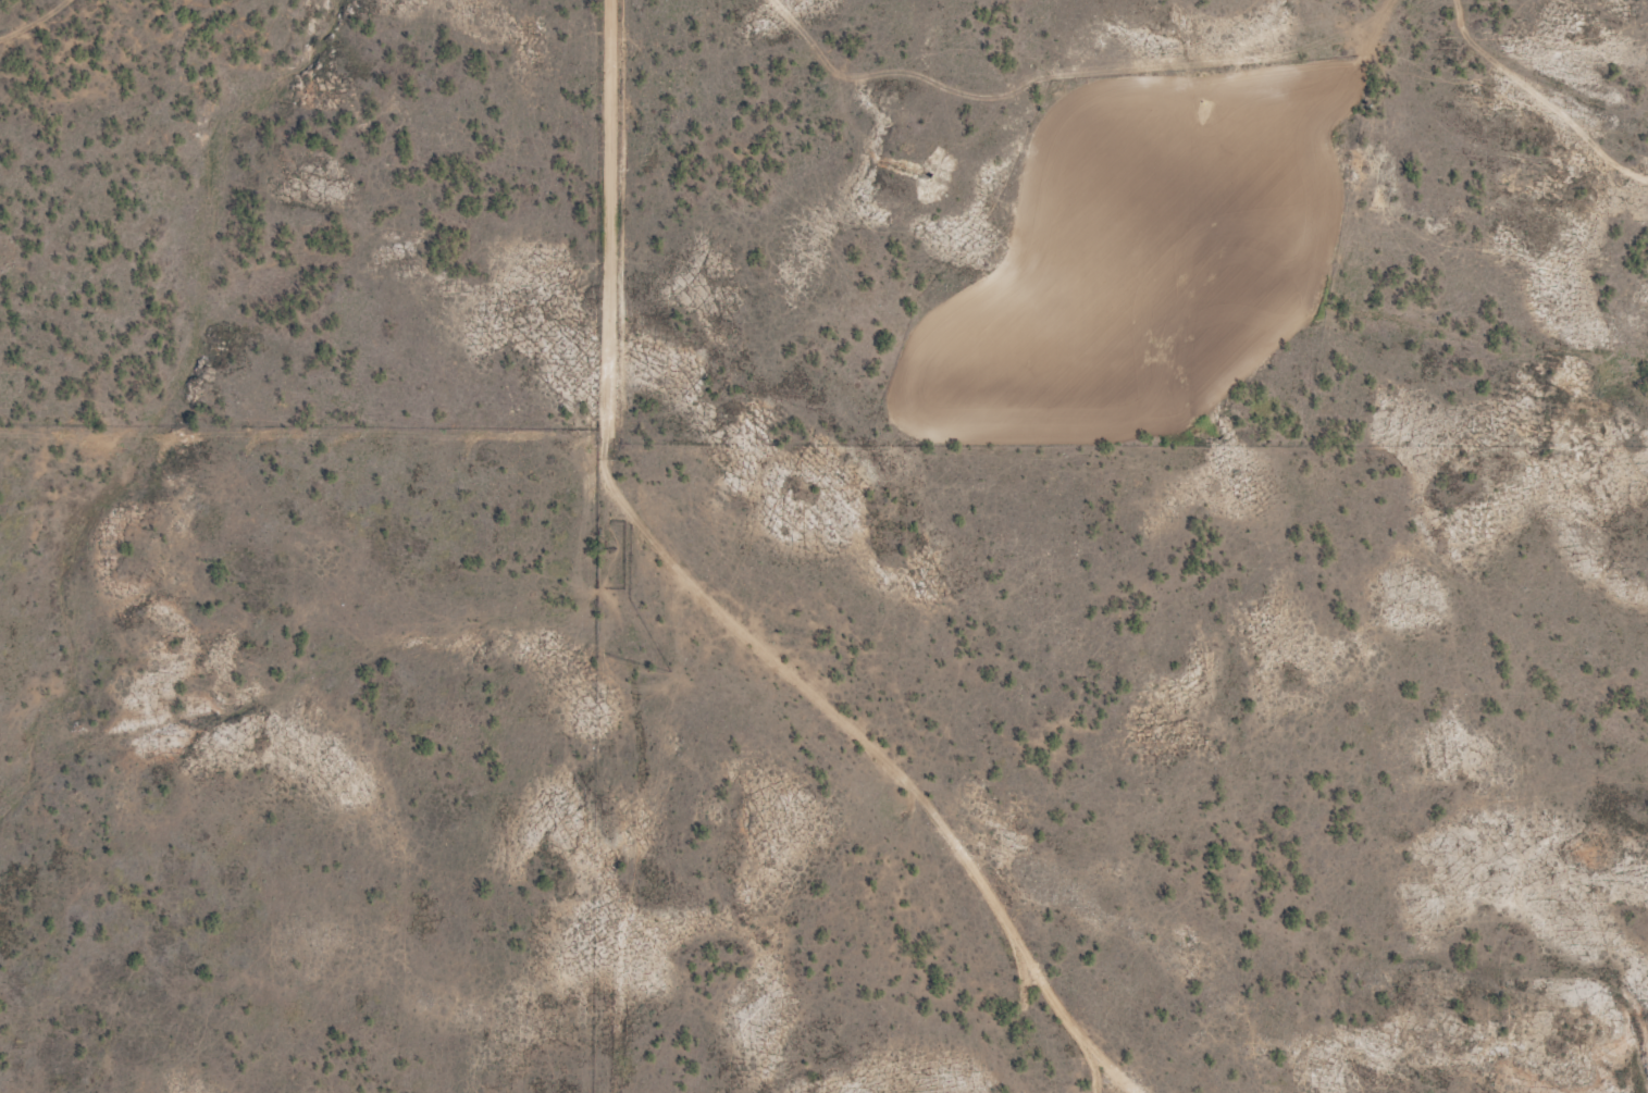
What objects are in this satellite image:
road: (66, 45)
road: (594, 546)
road: (914, 741)
road: (183, 956)

